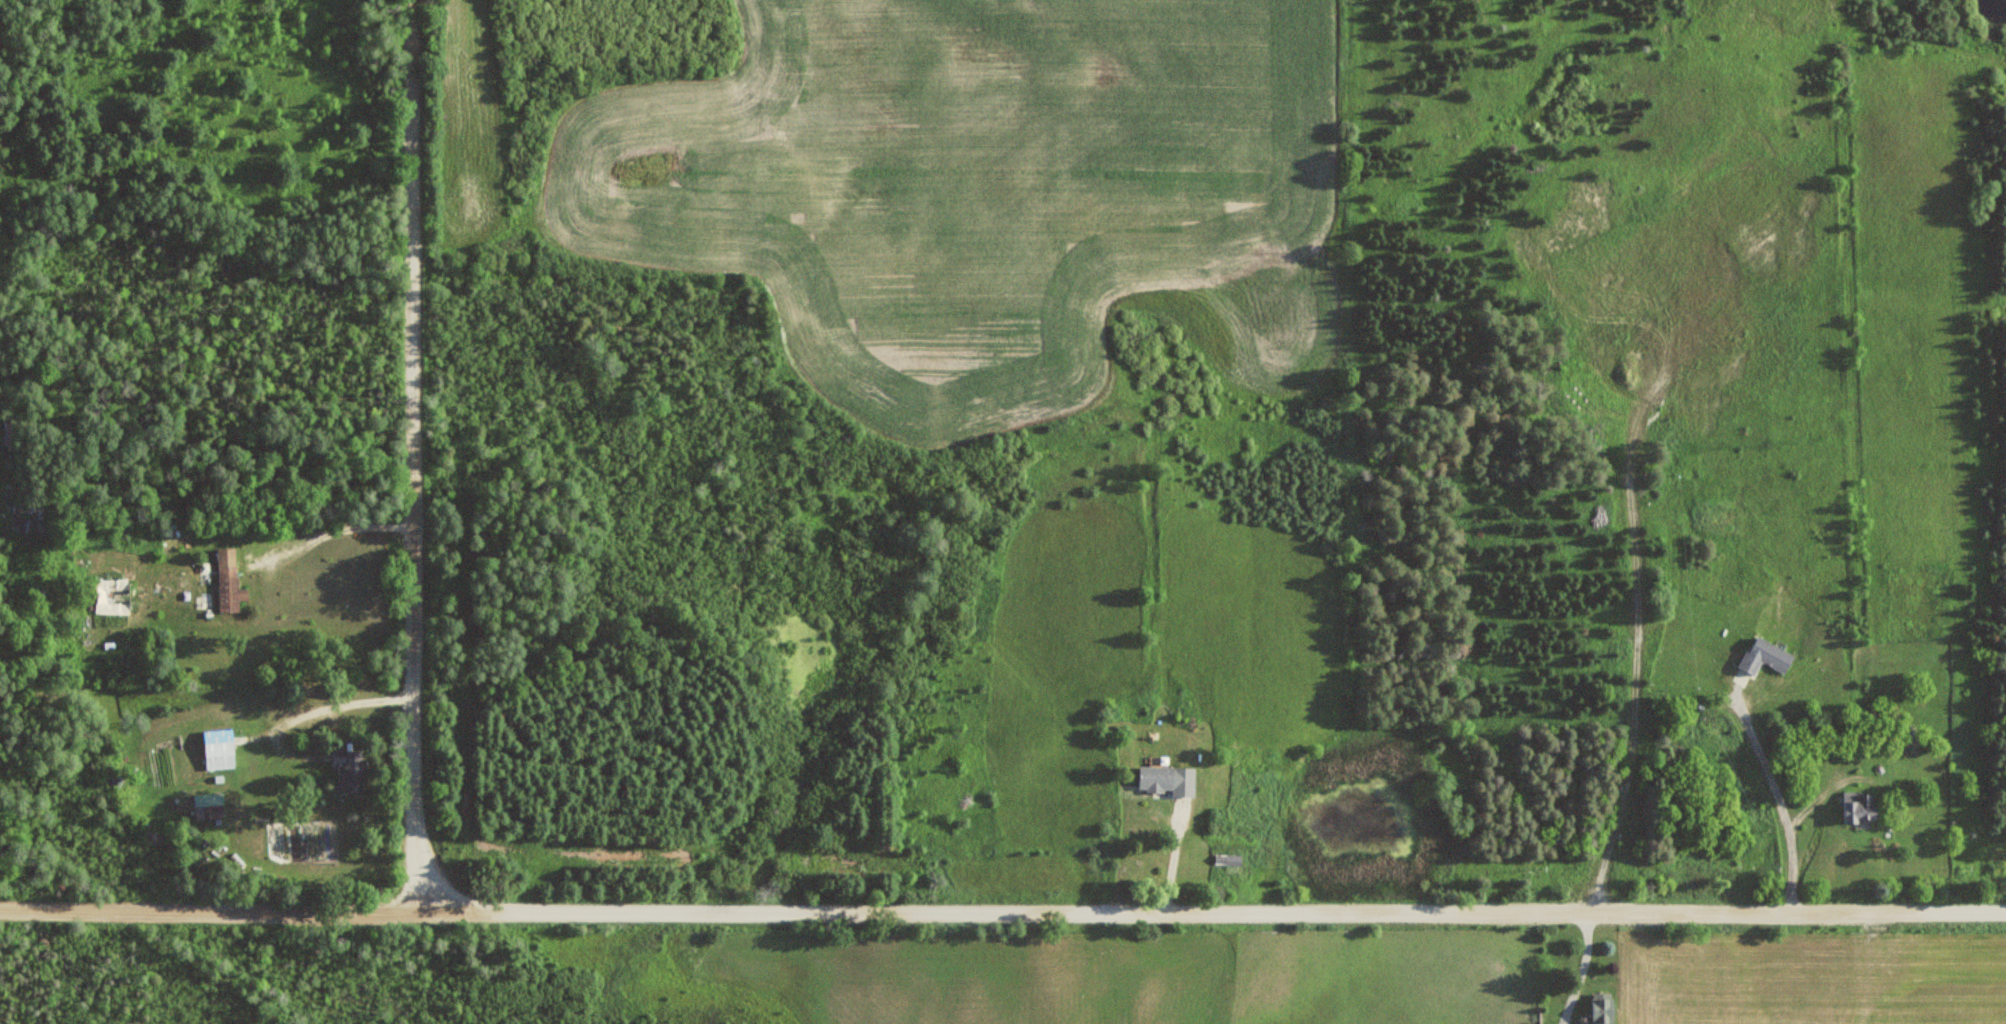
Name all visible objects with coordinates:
road: (412, 456)
building: (27, 515)
building: (229, 581)
building: (113, 596)
building: (1766, 656)
building: (1912, 736)
building: (220, 749)
building: (350, 771)
building: (1159, 779)
building: (210, 806)
building: (1862, 806)
building: (1229, 859)
road: (1211, 911)
road: (208, 912)
building: (1604, 1008)

